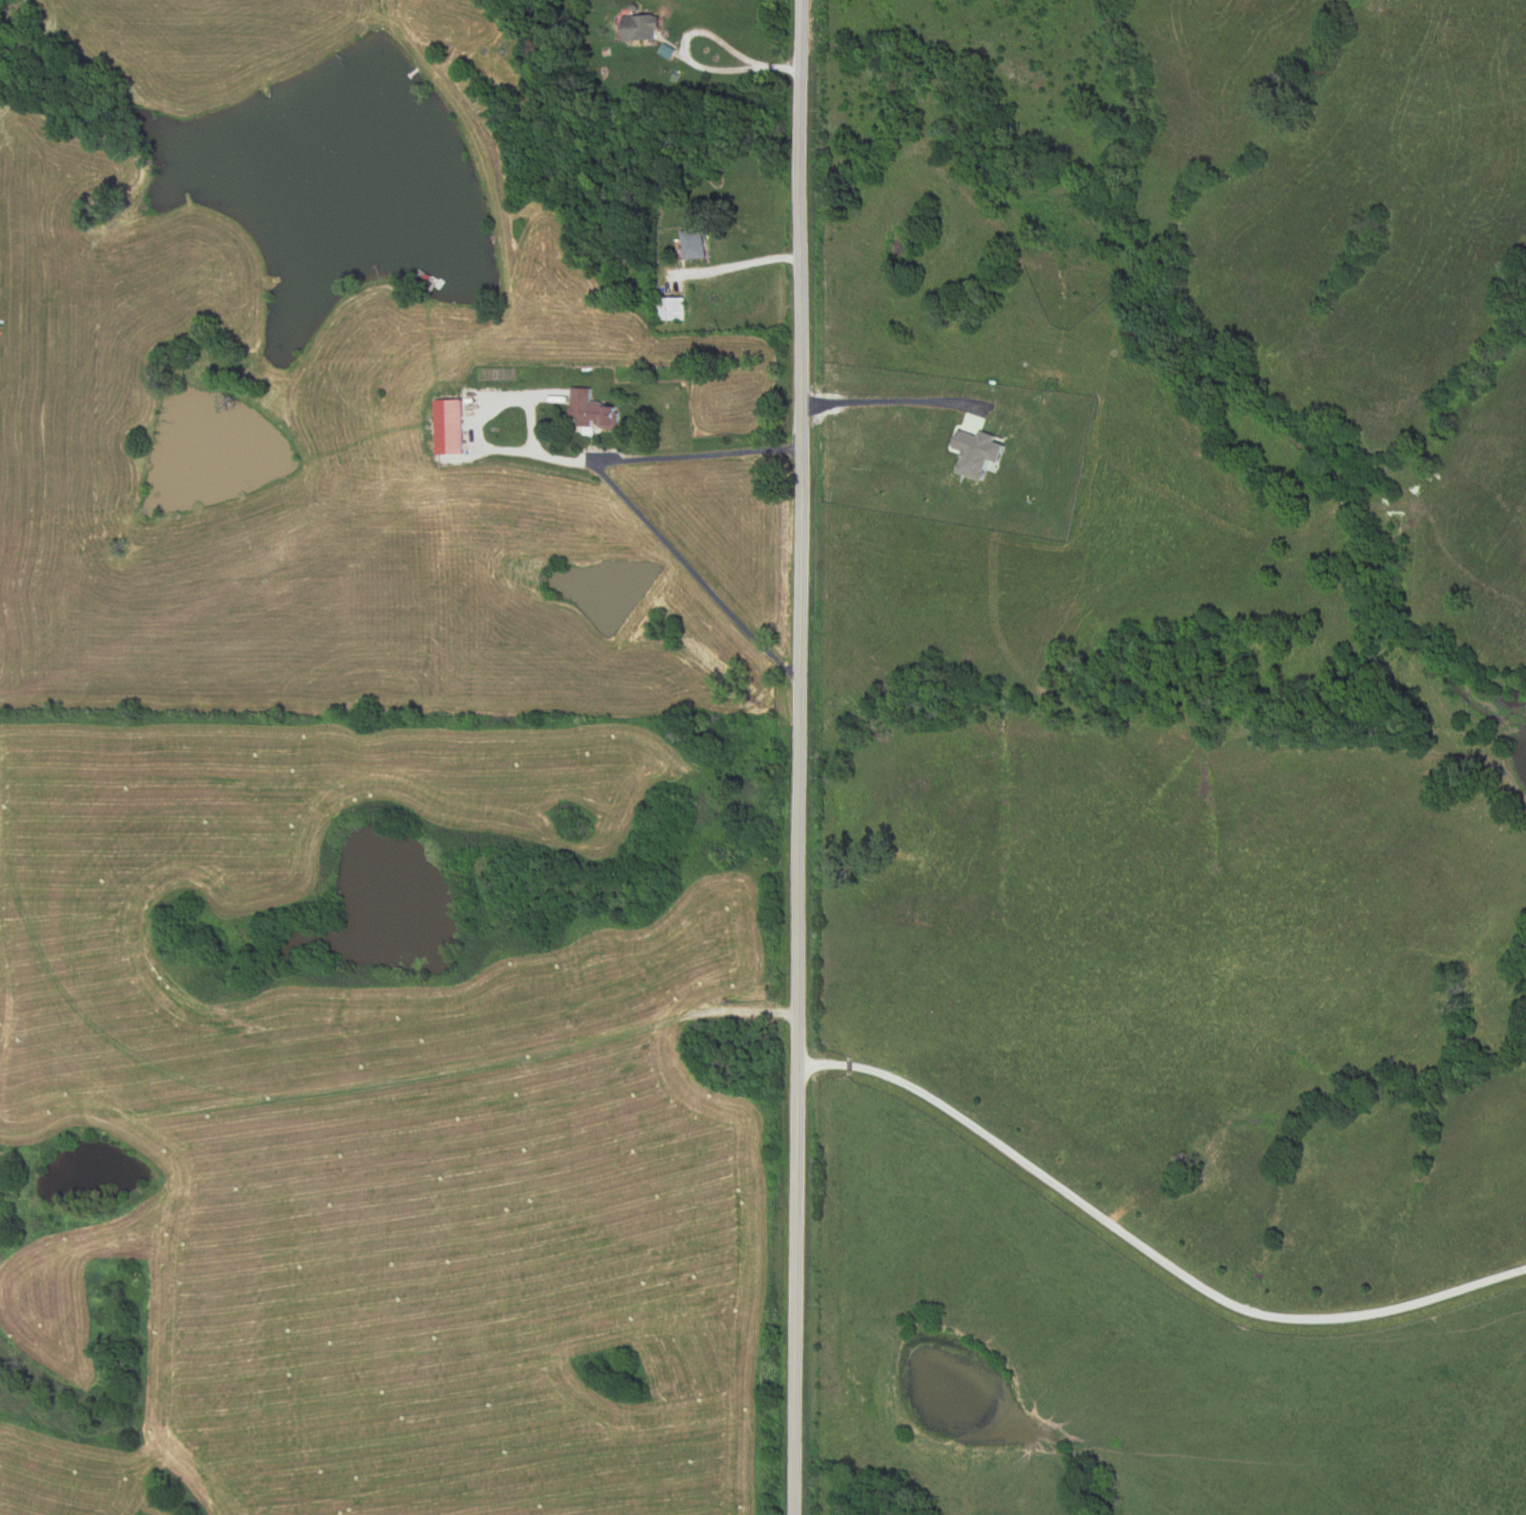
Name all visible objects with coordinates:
building: (638, 30)
road: (692, 63)
building: (695, 245)
road: (740, 264)
building: (670, 309)
road: (891, 399)
building: (466, 407)
building: (590, 411)
road: (477, 437)
road: (622, 498)
road: (802, 757)
road: (1148, 1250)
road: (1344, 1498)

